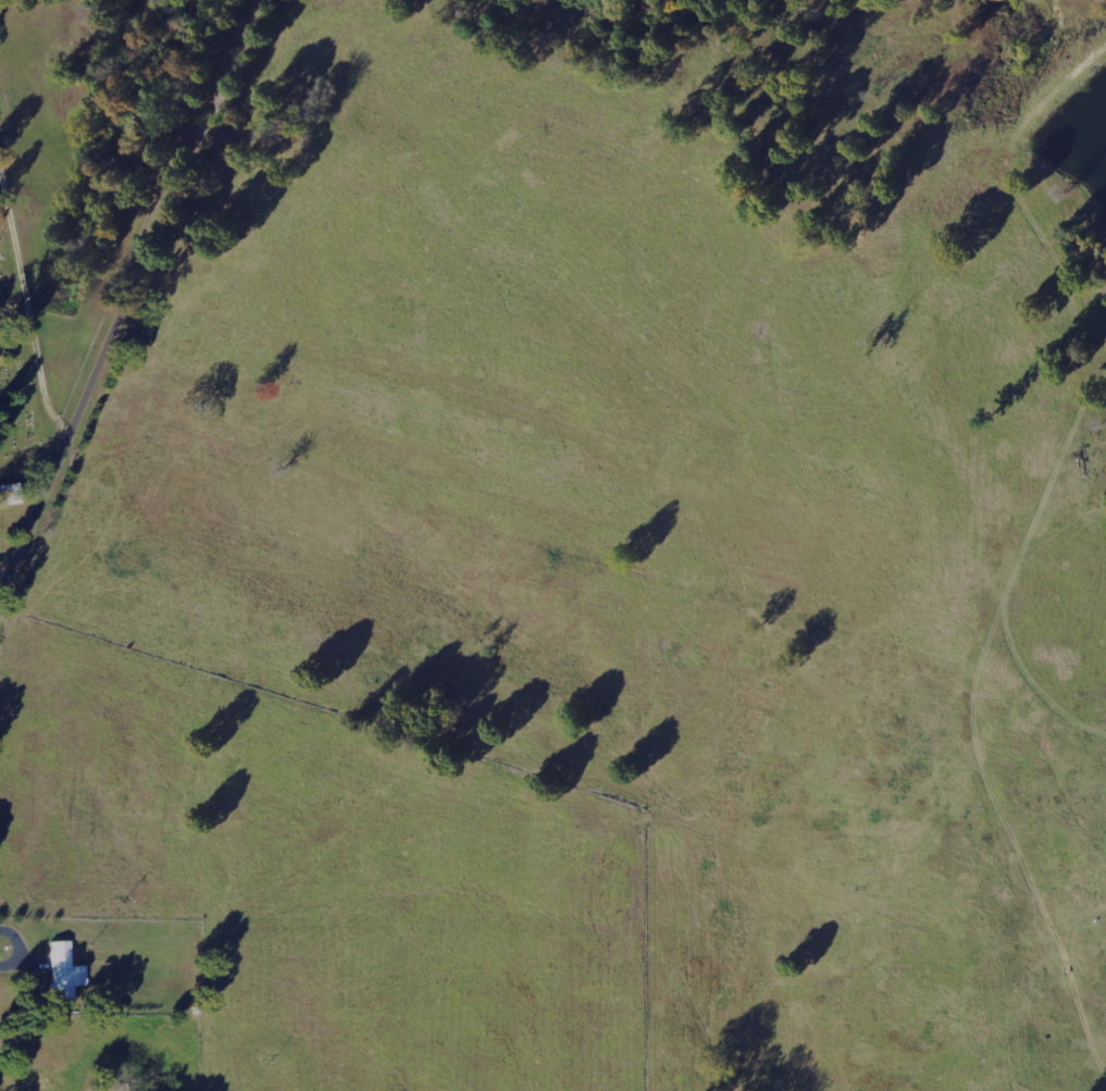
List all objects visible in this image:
road: (393, 89)
road: (129, 315)
building: (65, 970)

